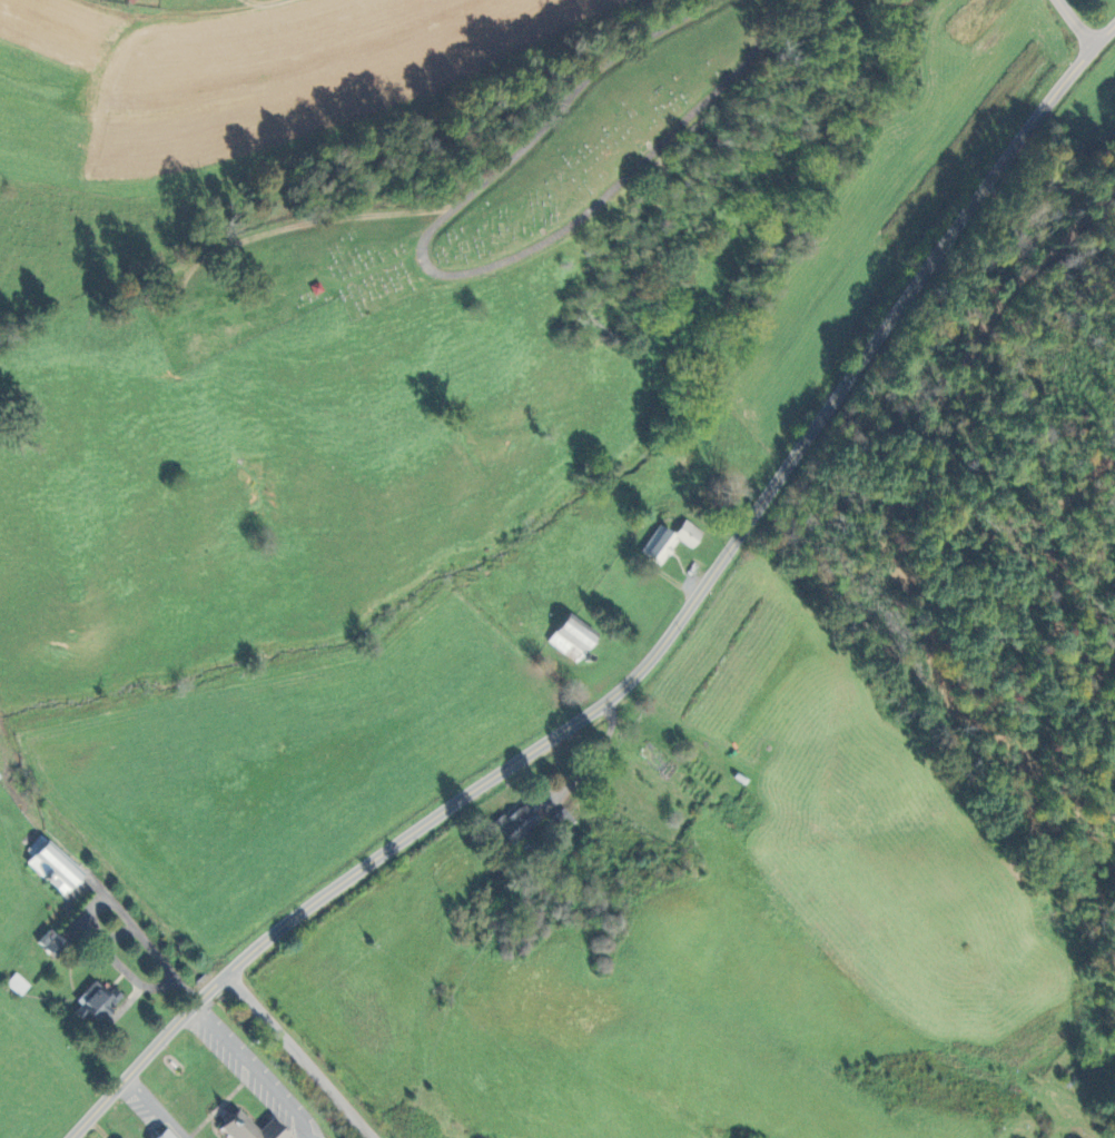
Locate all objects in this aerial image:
road: (1082, 22)
park: (466, 197)
road: (455, 270)
building: (667, 541)
building: (568, 635)
road: (661, 651)
building: (0, 778)
building: (514, 824)
building: (55, 864)
road: (148, 940)
building: (53, 941)
building: (97, 1003)
road: (300, 1055)
road: (256, 1068)
road: (159, 1107)
building: (249, 1127)
building: (168, 1134)

